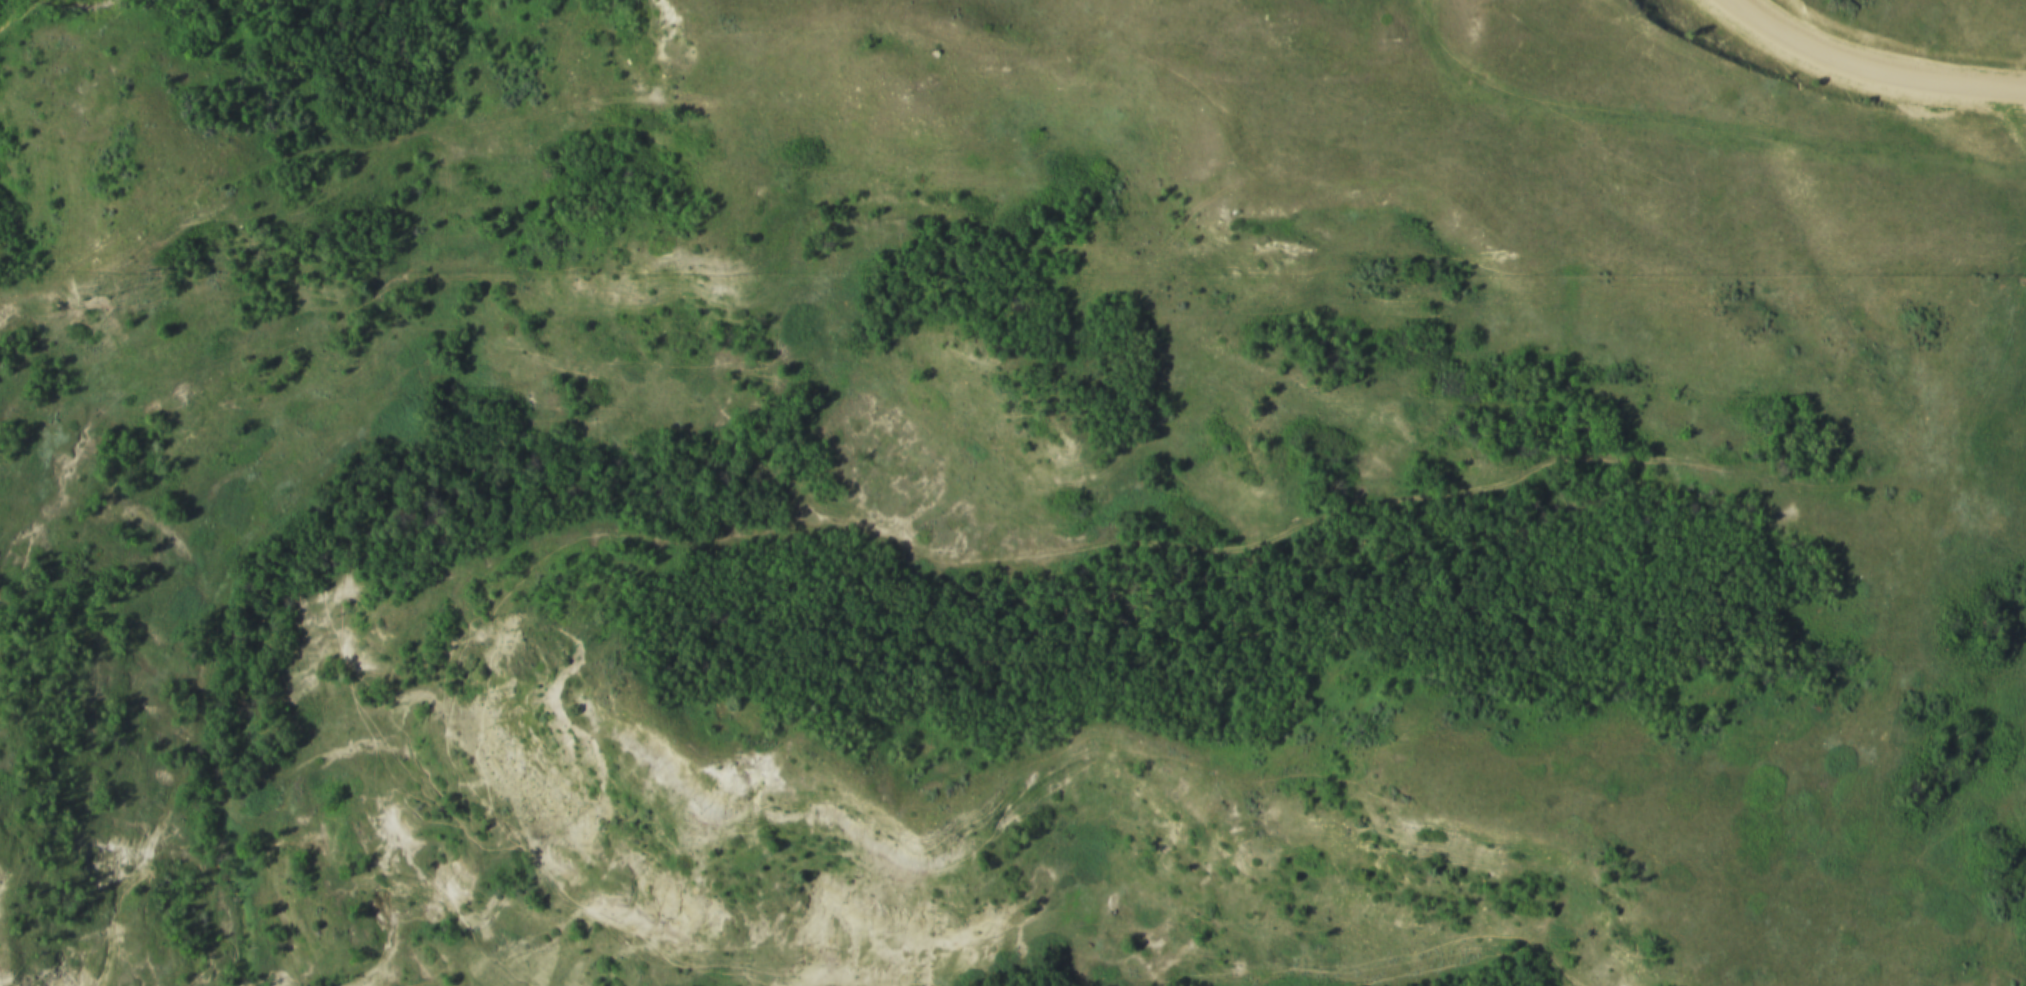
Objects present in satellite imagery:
road: (1867, 71)

